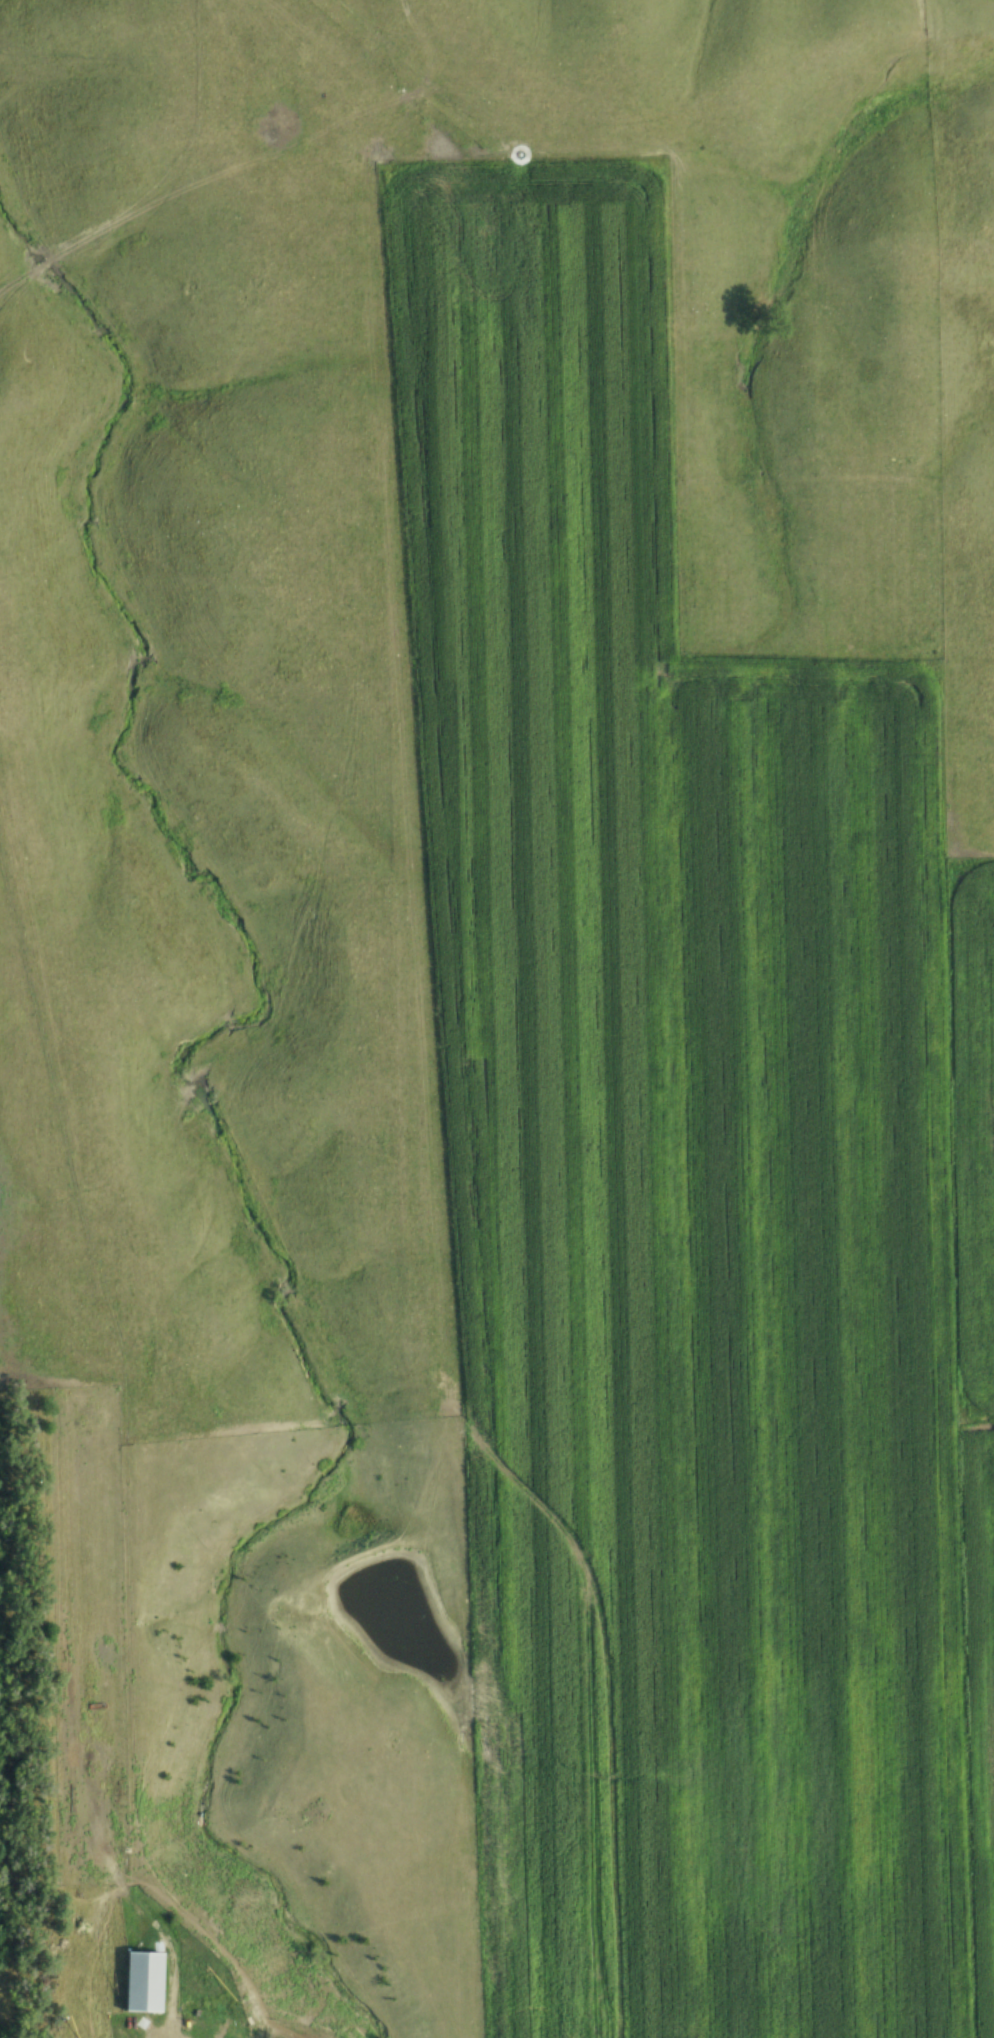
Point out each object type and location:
building: (144, 1979)

